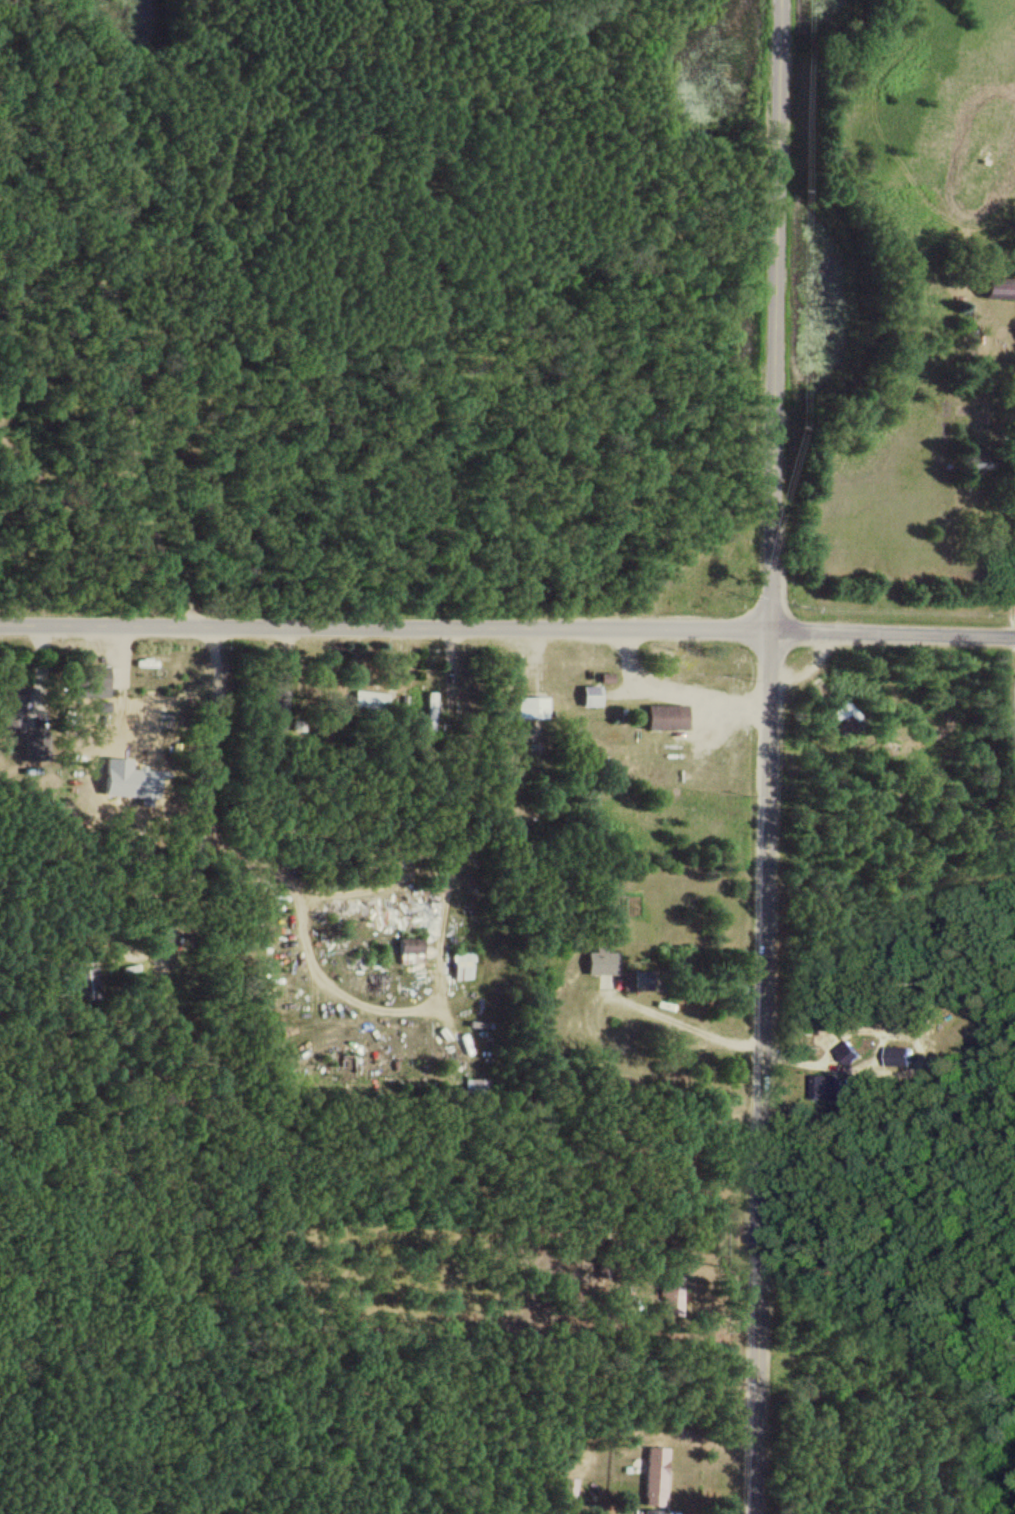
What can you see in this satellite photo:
building: (998, 286)
road: (120, 310)
road: (775, 314)
road: (85, 507)
road: (385, 628)
road: (893, 630)
building: (100, 676)
building: (590, 694)
building: (370, 699)
building: (13, 707)
building: (531, 707)
building: (279, 708)
building: (431, 711)
building: (157, 713)
building: (845, 715)
building: (666, 716)
building: (411, 950)
building: (463, 964)
building: (603, 964)
building: (83, 982)
building: (854, 1054)
road: (760, 1071)
building: (834, 1086)
building: (476, 1088)
building: (672, 1295)
building: (656, 1480)

